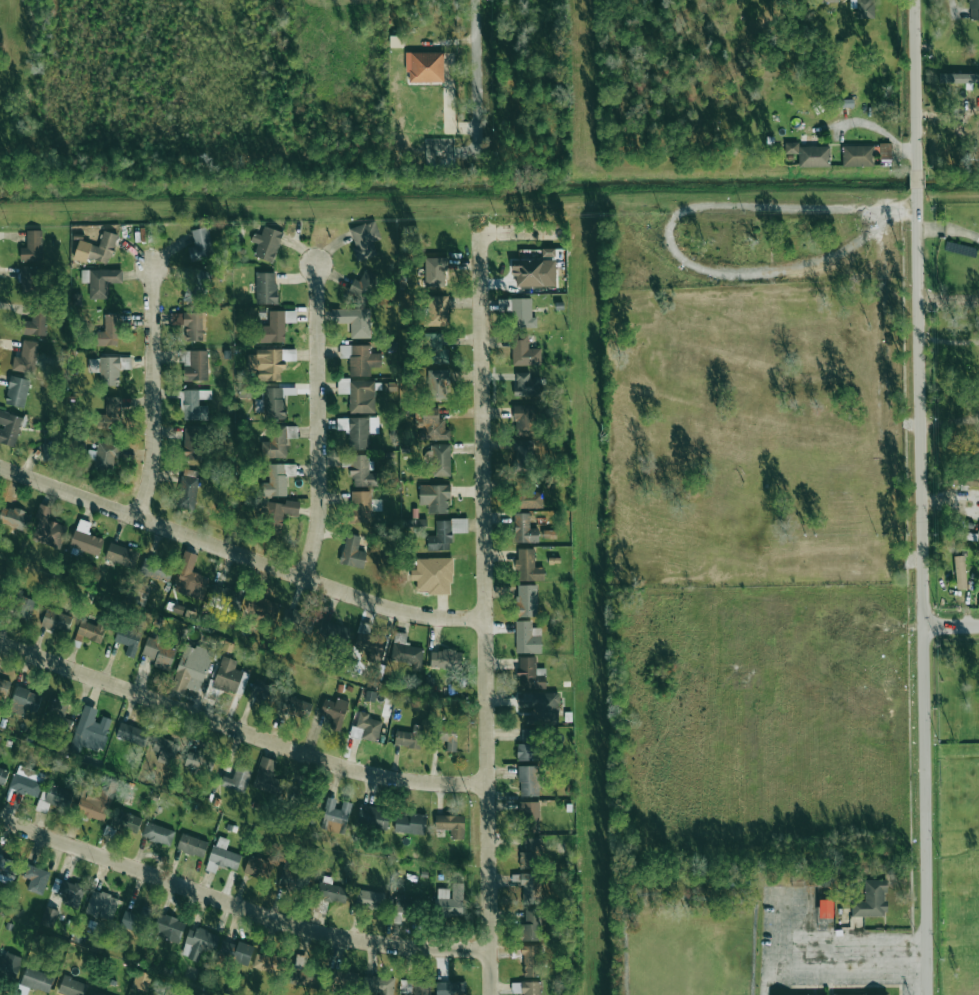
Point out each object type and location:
building: (824, 1)
road: (952, 6)
building: (864, 8)
building: (973, 9)
building: (425, 67)
building: (958, 78)
road: (477, 80)
road: (880, 130)
building: (791, 148)
building: (885, 152)
building: (814, 156)
building: (857, 156)
road: (951, 231)
road: (670, 234)
building: (364, 240)
building: (266, 243)
building: (200, 244)
building: (32, 246)
building: (97, 249)
building: (435, 272)
building: (534, 273)
building: (30, 279)
building: (101, 281)
building: (195, 285)
building: (364, 285)
building: (266, 288)
building: (437, 310)
building: (523, 313)
building: (355, 321)
building: (36, 322)
building: (191, 325)
building: (276, 326)
building: (109, 331)
road: (950, 341)
building: (436, 350)
building: (524, 352)
building: (25, 358)
building: (361, 359)
building: (194, 365)
building: (267, 365)
building: (437, 384)
building: (526, 385)
building: (17, 391)
road: (152, 392)
building: (361, 396)
building: (275, 403)
building: (195, 404)
building: (110, 416)
building: (523, 420)
road: (951, 420)
road: (317, 422)
building: (434, 424)
building: (9, 428)
building: (358, 431)
building: (277, 441)
building: (193, 443)
building: (50, 452)
building: (523, 455)
building: (104, 456)
building: (441, 460)
building: (362, 472)
building: (277, 479)
building: (188, 489)
building: (528, 497)
road: (923, 497)
building: (435, 498)
building: (360, 506)
building: (281, 513)
building: (14, 518)
building: (47, 528)
building: (524, 529)
building: (445, 533)
building: (978, 536)
building: (85, 539)
building: (352, 552)
road: (241, 554)
building: (121, 555)
building: (528, 566)
building: (156, 569)
building: (960, 572)
building: (440, 575)
building: (190, 578)
building: (0, 585)
building: (226, 599)
building: (527, 600)
road: (486, 605)
building: (22, 606)
building: (264, 608)
building: (298, 619)
building: (56, 620)
road: (952, 625)
building: (91, 631)
building: (334, 631)
building: (128, 638)
building: (527, 638)
building: (370, 643)
building: (405, 650)
building: (159, 652)
building: (191, 669)
building: (531, 674)
building: (230, 676)
building: (3, 687)
building: (262, 692)
building: (369, 695)
building: (24, 701)
building: (538, 705)
building: (296, 707)
building: (57, 709)
building: (334, 712)
building: (366, 727)
road: (241, 730)
building: (89, 731)
building: (132, 734)
building: (446, 736)
building: (409, 737)
building: (528, 745)
building: (165, 751)
building: (193, 756)
building: (3, 776)
building: (268, 778)
building: (237, 779)
building: (26, 781)
building: (528, 781)
building: (298, 796)
building: (94, 804)
building: (528, 812)
building: (335, 816)
building: (373, 817)
building: (125, 822)
building: (410, 824)
building: (451, 825)
building: (158, 834)
building: (192, 845)
building: (530, 850)
building: (222, 856)
building: (258, 867)
building: (7, 868)
building: (294, 877)
building: (36, 879)
building: (528, 886)
building: (69, 891)
building: (331, 891)
building: (369, 899)
building: (450, 900)
building: (872, 900)
building: (404, 904)
building: (101, 905)
road: (240, 907)
building: (826, 908)
building: (50, 916)
building: (135, 920)
building: (531, 926)
building: (169, 928)
building: (200, 943)
building: (236, 951)
road: (831, 954)
building: (532, 960)
building: (266, 963)
building: (9, 965)
building: (306, 978)
building: (37, 980)
building: (142, 980)
building: (345, 980)
building: (72, 987)
building: (413, 988)
building: (449, 988)
building: (531, 988)
building: (96, 993)
building: (879, 994)

